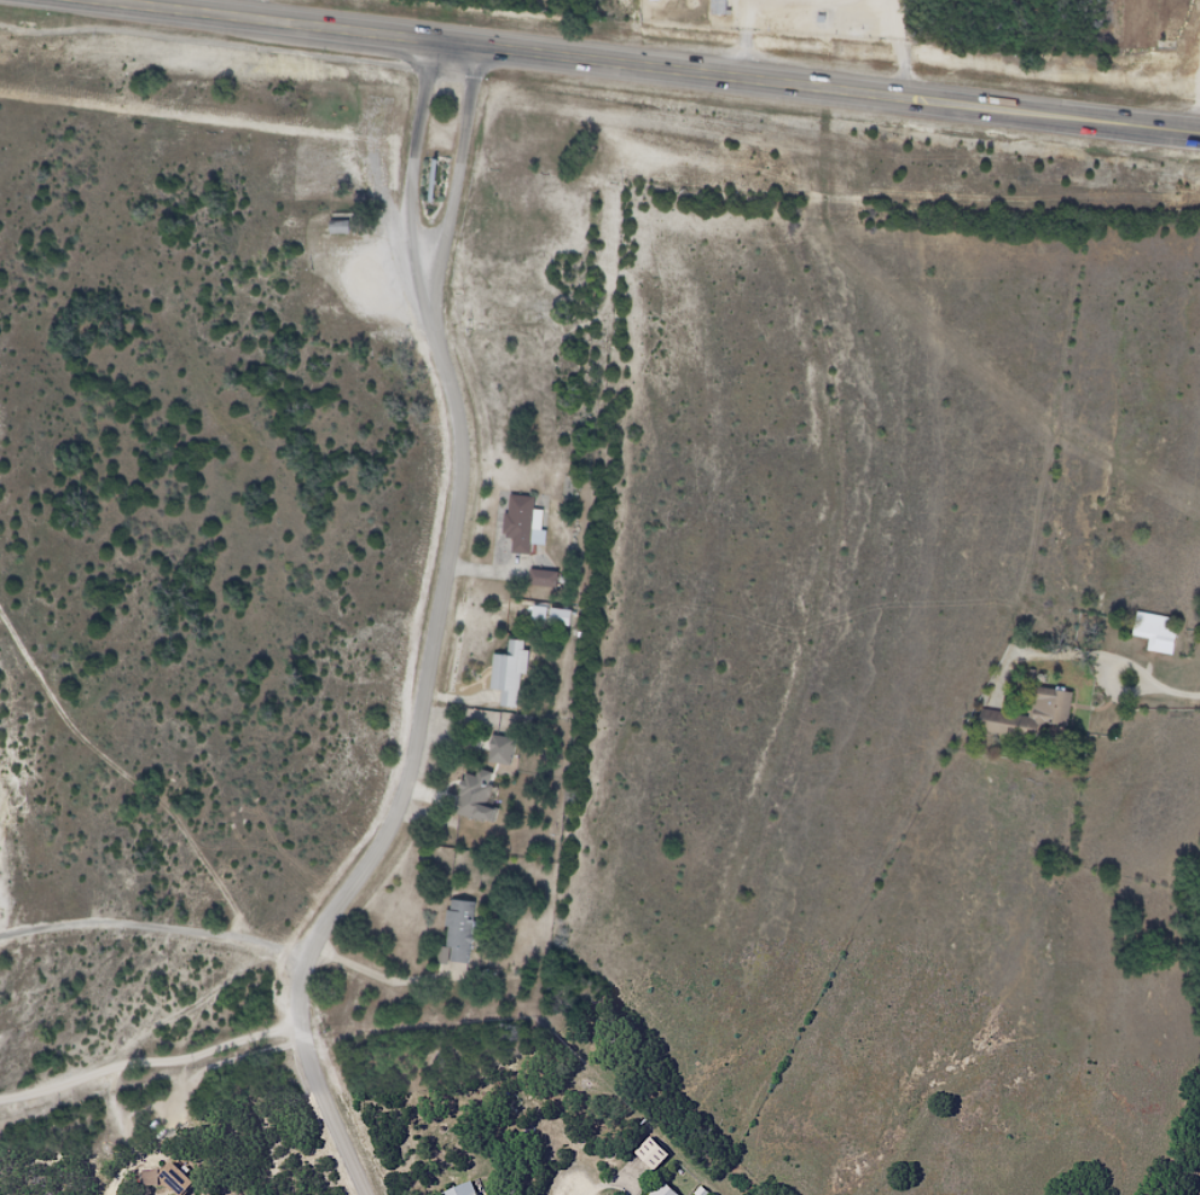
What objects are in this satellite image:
building: (718, 7)
road: (627, 65)
road: (413, 180)
road: (466, 185)
building: (338, 226)
building: (529, 528)
building: (543, 578)
building: (553, 585)
building: (560, 625)
building: (1155, 631)
building: (520, 680)
building: (1030, 715)
building: (512, 758)
road: (405, 772)
building: (485, 807)
road: (155, 922)
building: (469, 936)
road: (150, 1066)
building: (659, 1161)
building: (175, 1184)
road: (121, 1190)
building: (459, 1190)
building: (668, 1190)
building: (473, 1191)

